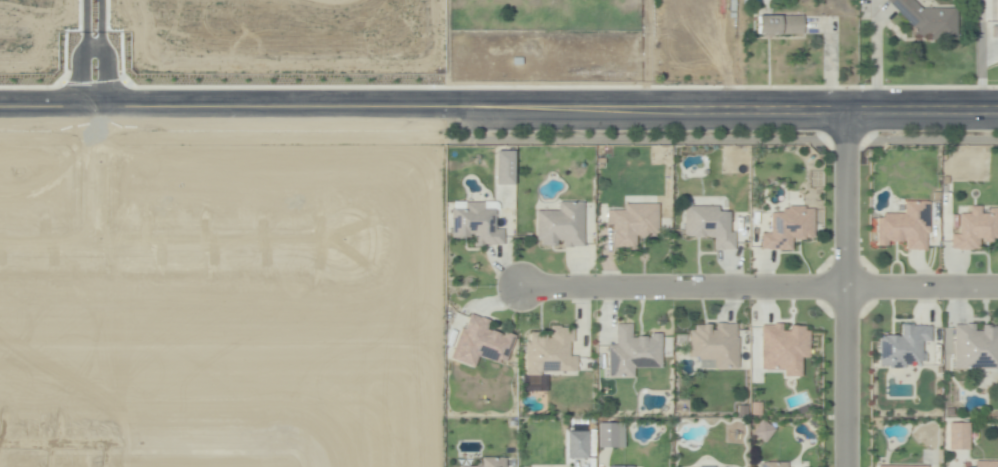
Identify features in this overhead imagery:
building: (930, 20)
building: (780, 26)
building: (993, 31)
road: (85, 58)
road: (447, 60)
road: (874, 64)
road: (979, 73)
road: (498, 120)
building: (601, 162)
building: (501, 167)
road: (86, 178)
building: (711, 224)
building: (563, 225)
building: (476, 226)
building: (633, 226)
building: (908, 226)
building: (790, 227)
building: (974, 228)
road: (172, 238)
road: (760, 288)
road: (847, 294)
building: (478, 342)
building: (783, 345)
building: (905, 346)
building: (977, 346)
building: (716, 347)
building: (635, 351)
building: (550, 354)
building: (757, 410)
building: (744, 412)
building: (760, 431)
building: (610, 434)
building: (961, 436)
road: (156, 441)
building: (575, 444)
road: (311, 454)
building: (494, 462)
building: (987, 464)
building: (623, 465)
building: (774, 465)
building: (708, 466)
building: (906, 466)

